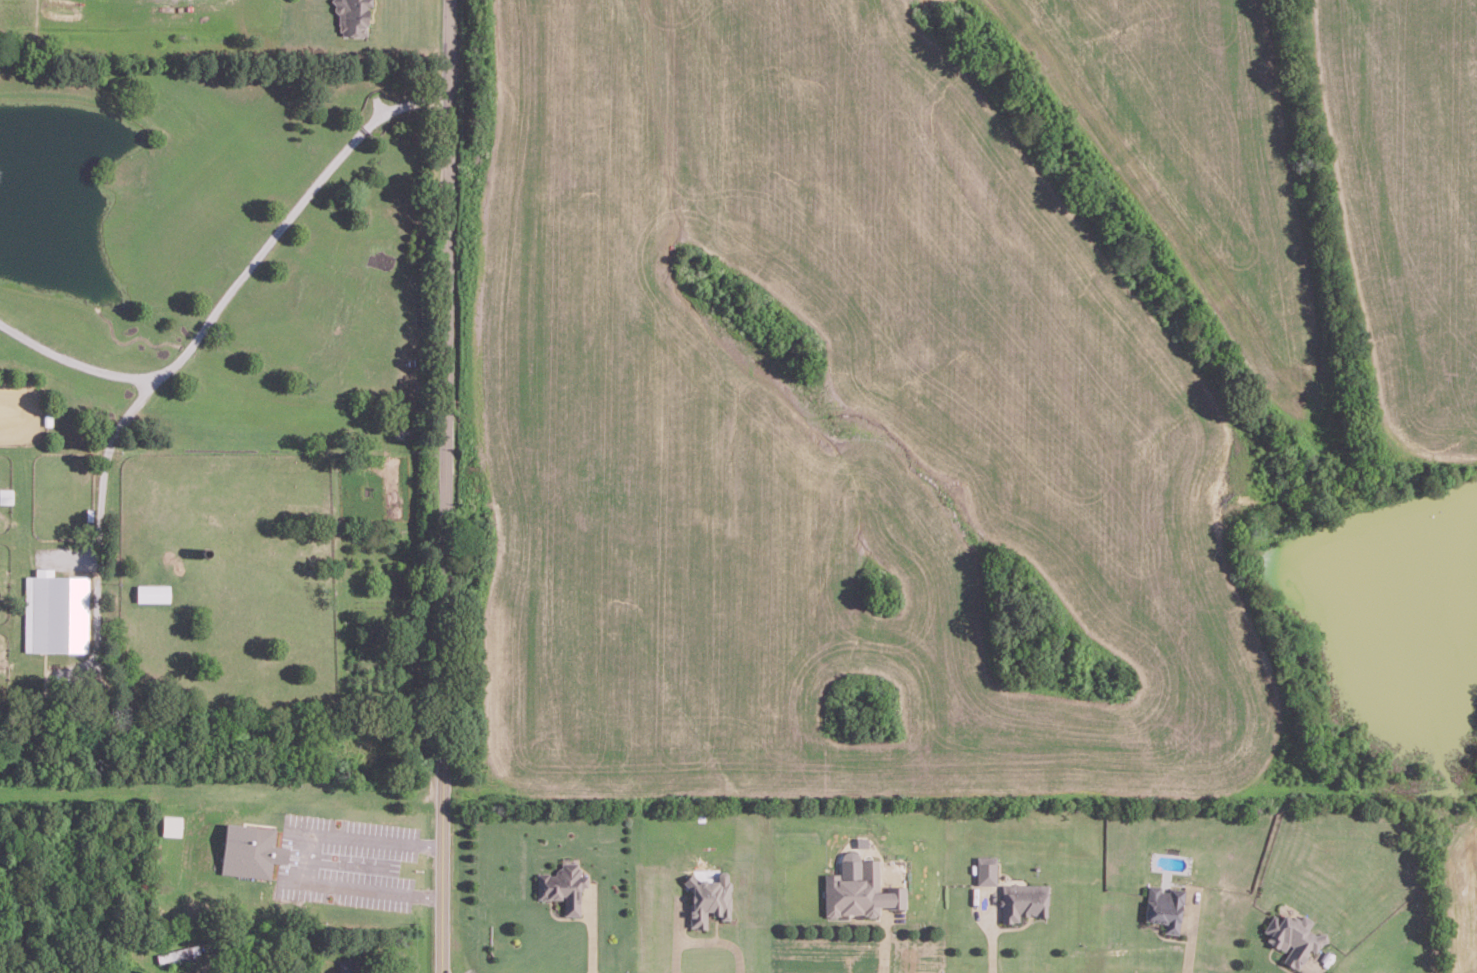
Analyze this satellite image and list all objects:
building: (352, 15)
road: (238, 278)
road: (444, 400)
road: (105, 455)
building: (6, 495)
building: (152, 591)
building: (56, 610)
building: (172, 824)
road: (431, 844)
building: (251, 850)
road: (309, 858)
building: (986, 869)
building: (563, 885)
road: (445, 886)
building: (859, 888)
road: (429, 895)
building: (709, 898)
building: (1022, 900)
building: (1164, 906)
road: (590, 930)
road: (991, 930)
building: (1293, 937)
road: (705, 938)
building: (179, 952)
building: (348, 965)
road: (1319, 967)

